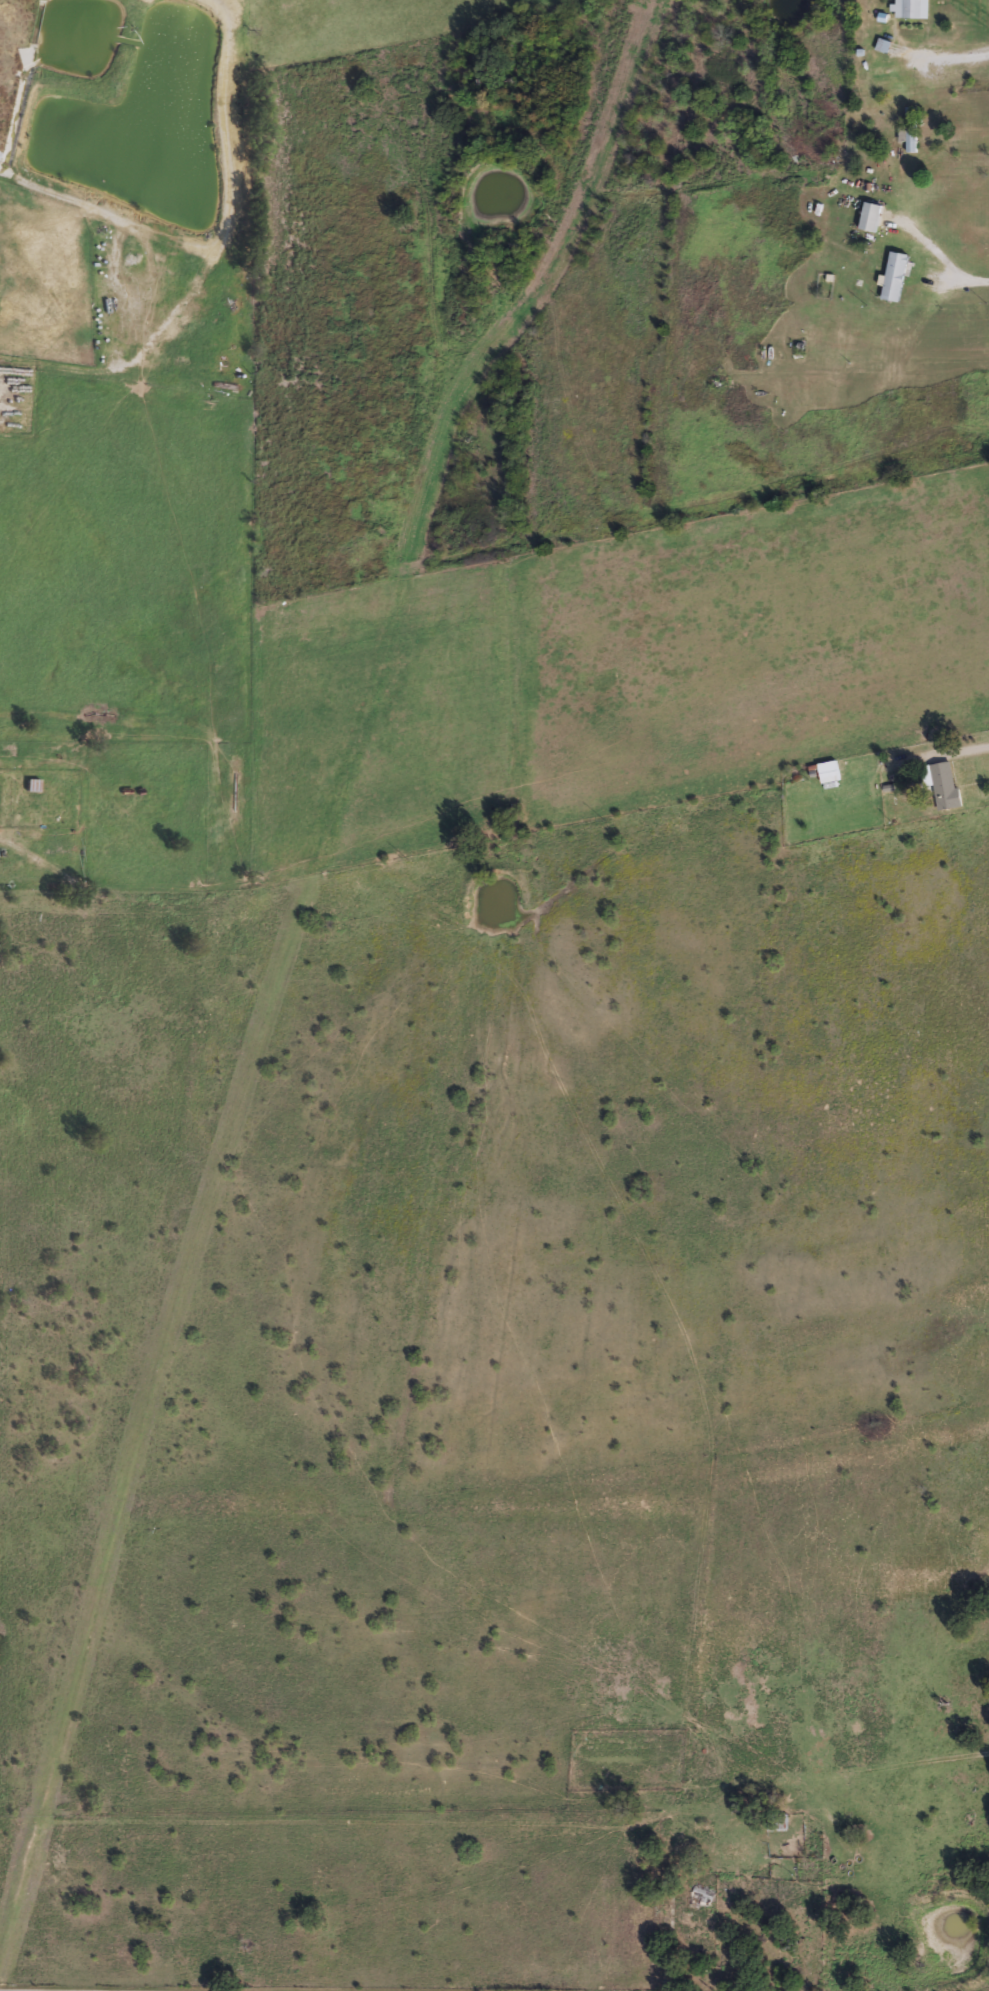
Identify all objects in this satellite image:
building: (912, 9)
building: (882, 45)
road: (950, 57)
building: (910, 129)
building: (869, 216)
building: (893, 276)
building: (827, 772)
building: (941, 784)
building: (30, 785)
building: (775, 1822)
building: (697, 1898)
road: (48, 1990)
road: (78, 1990)

